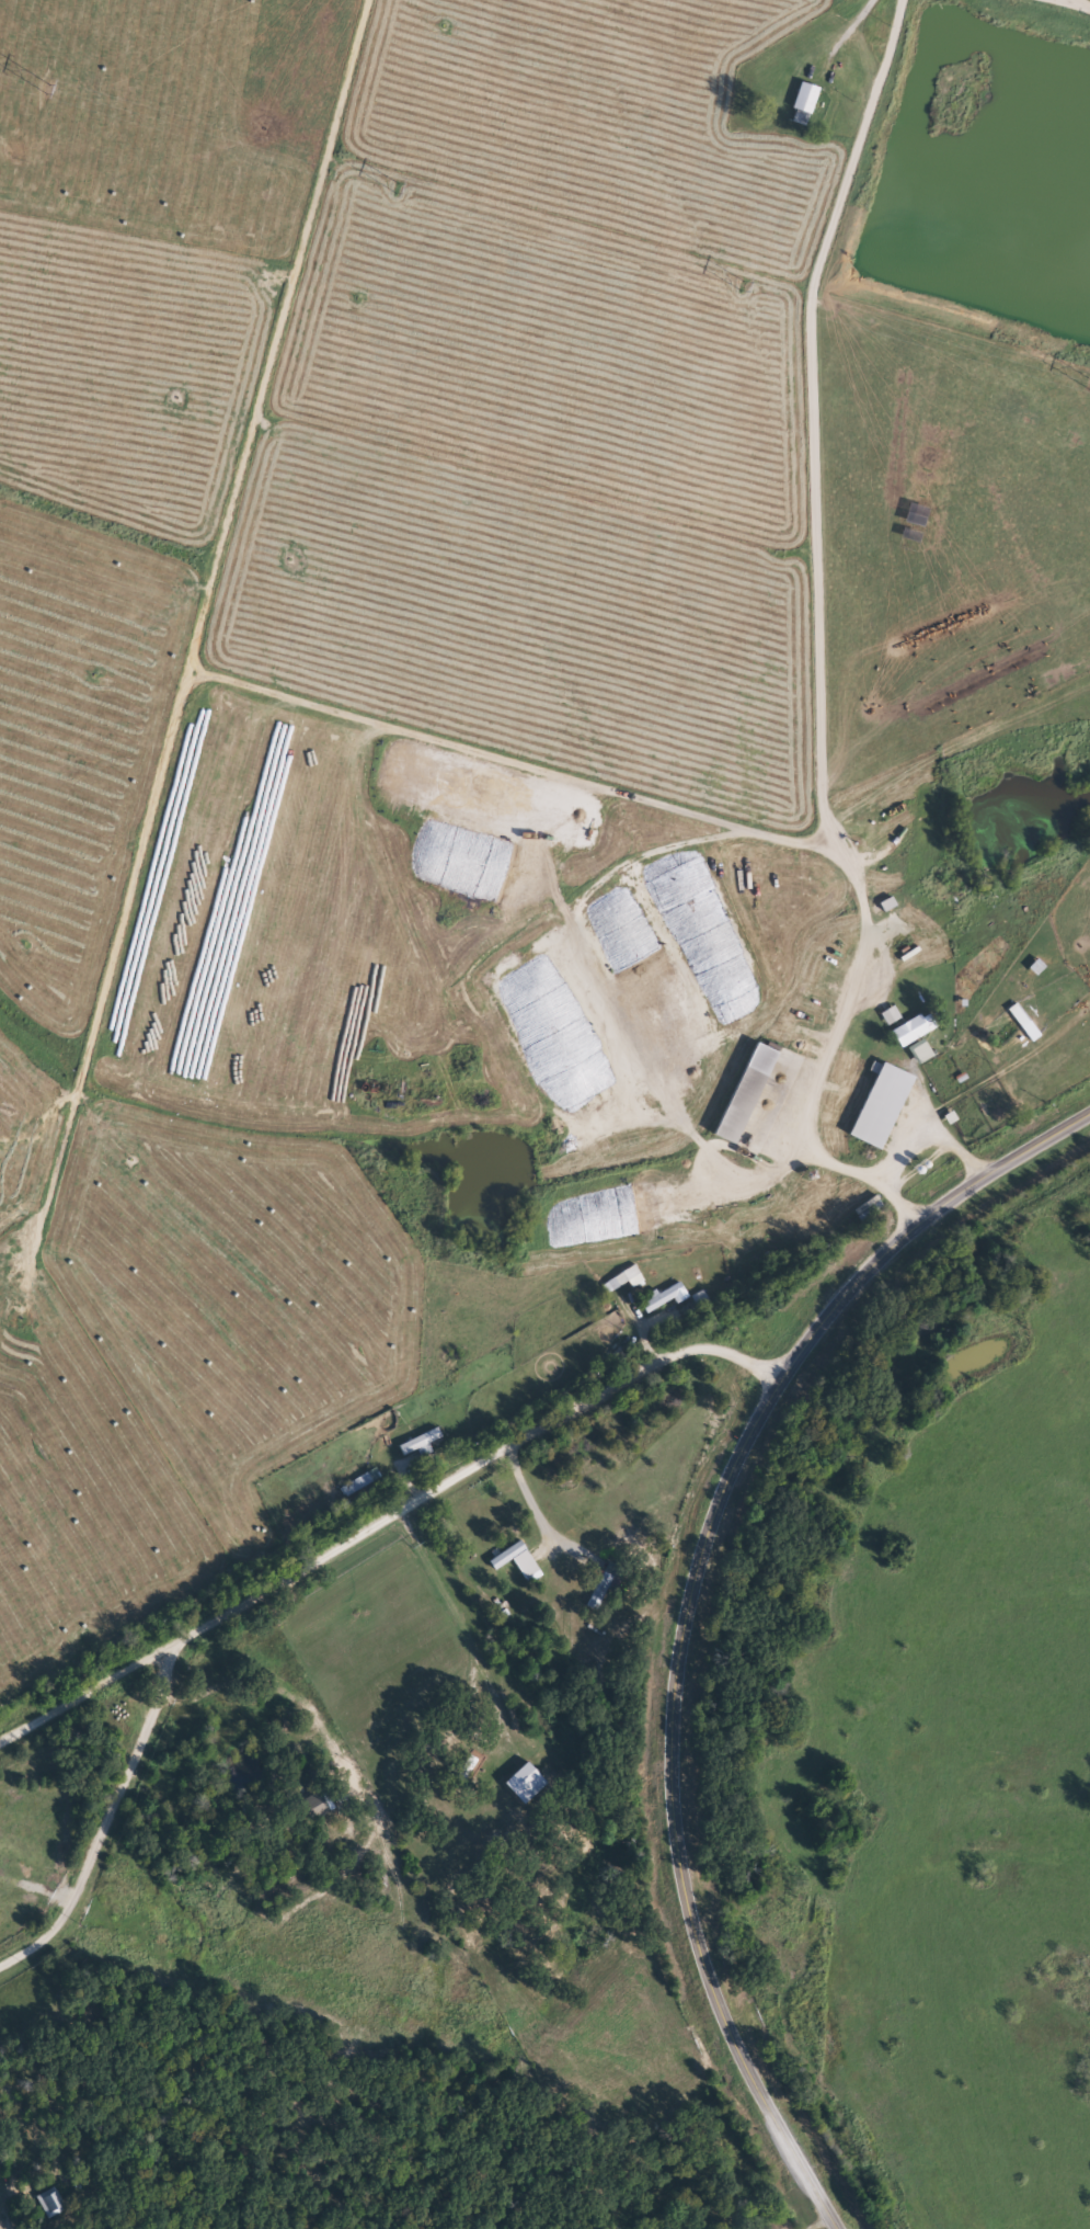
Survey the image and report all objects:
road: (202, 35)
building: (804, 98)
road: (577, 323)
building: (705, 947)
building: (680, 962)
building: (662, 1001)
building: (909, 1030)
building: (618, 1050)
building: (583, 1056)
building: (738, 1104)
building: (879, 1104)
road: (904, 1125)
building: (610, 1203)
building: (631, 1278)
building: (662, 1297)
road: (388, 1509)
building: (515, 1559)
building: (599, 1590)
road: (690, 1608)
road: (323, 1707)
road: (531, 1719)
building: (468, 1773)
building: (313, 1805)
road: (107, 1811)
road: (452, 1897)
road: (320, 2002)
building: (50, 2202)

